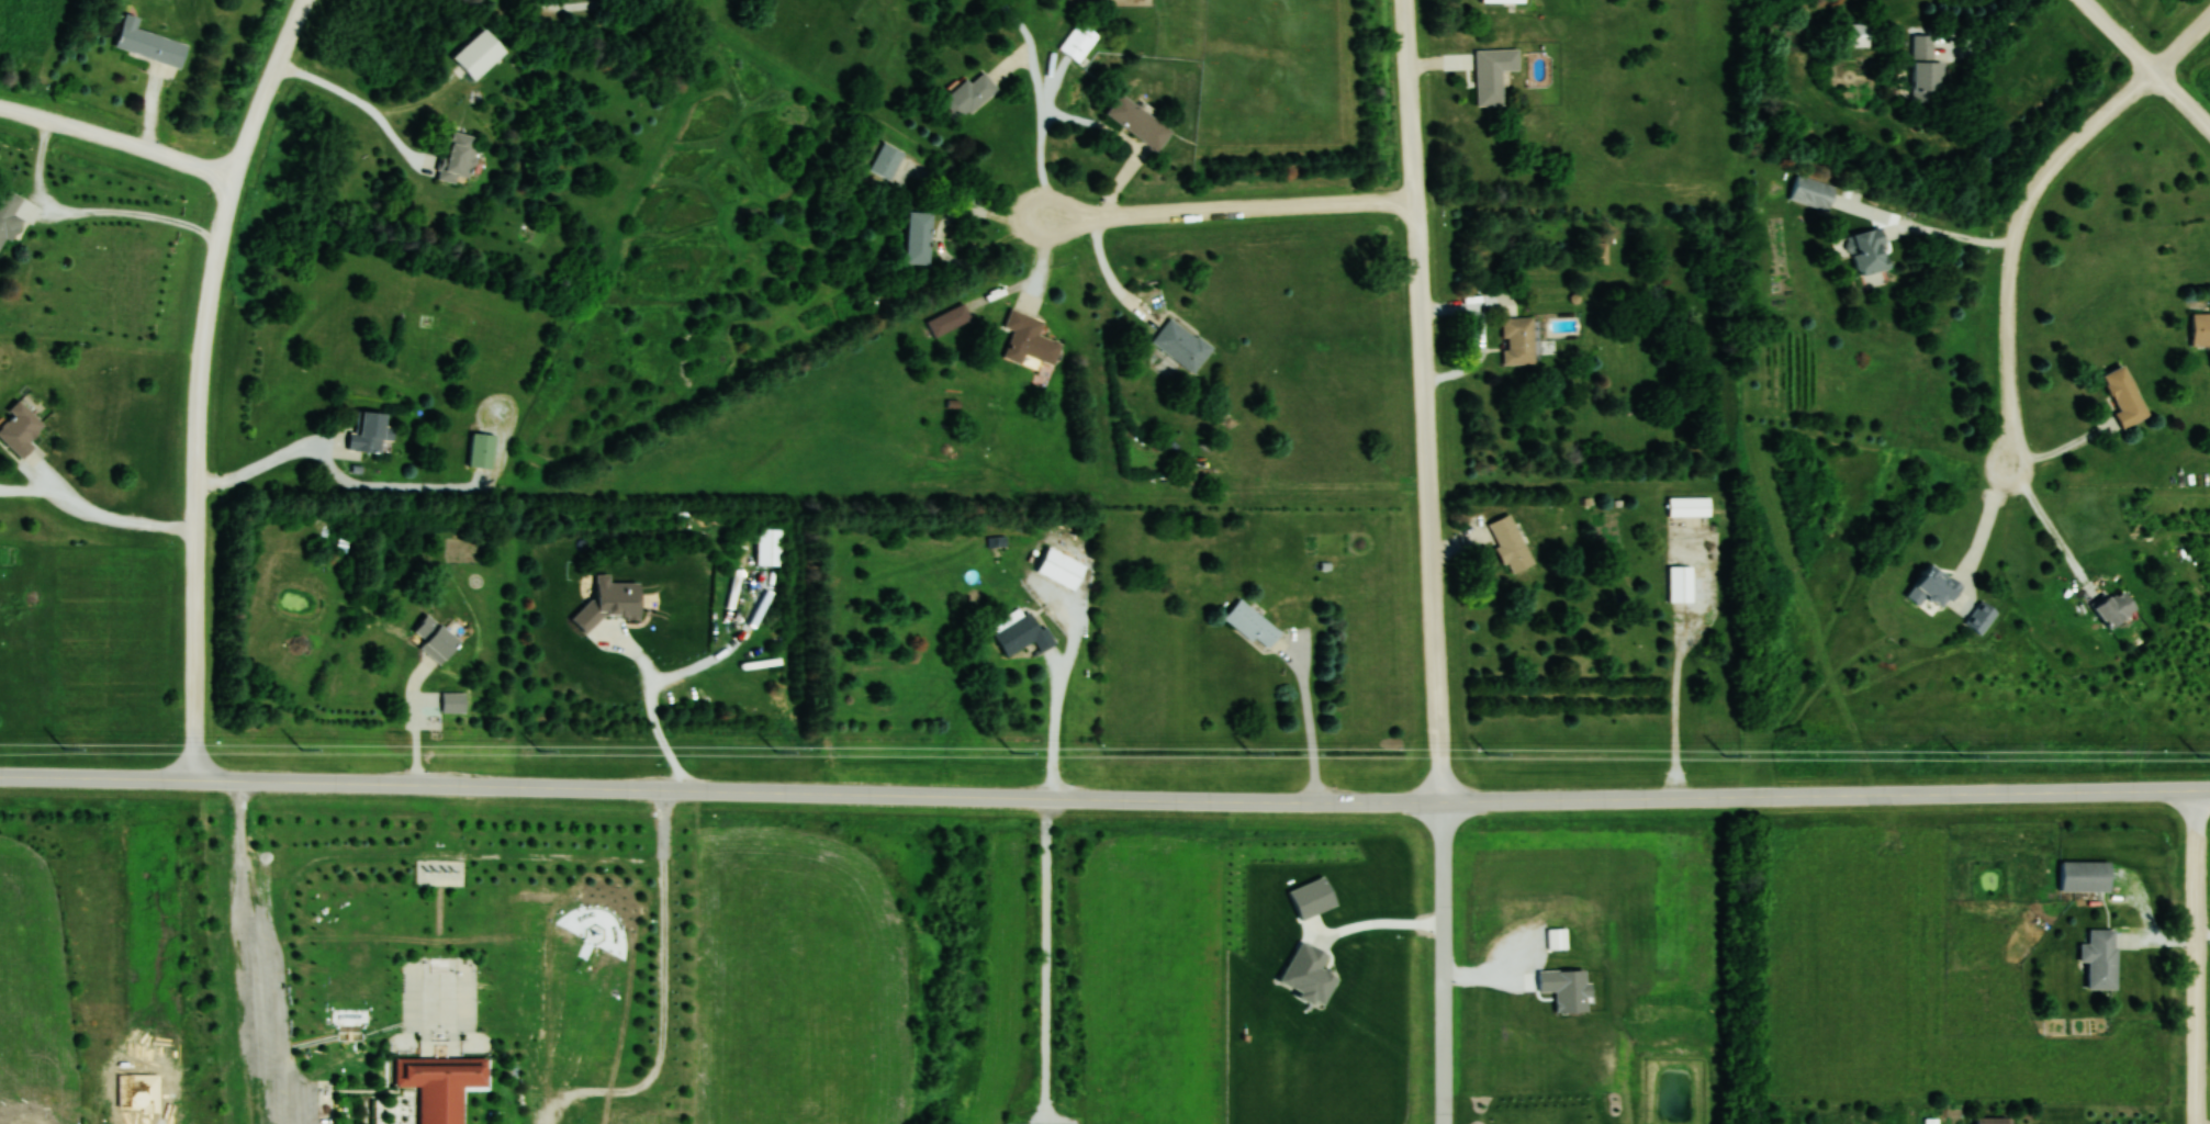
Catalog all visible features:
building: (1502, 1)
road: (571, 5)
building: (1856, 34)
road: (2122, 35)
road: (1990, 36)
building: (1078, 42)
building: (147, 43)
road: (2183, 44)
building: (479, 54)
building: (1926, 70)
building: (1492, 74)
building: (966, 95)
road: (2183, 99)
road: (359, 103)
building: (1137, 122)
road: (1043, 134)
road: (119, 140)
building: (458, 157)
building: (887, 160)
building: (1811, 192)
road: (1232, 209)
building: (8, 215)
road: (1956, 236)
building: (918, 237)
road: (2016, 243)
building: (1869, 251)
building: (1597, 252)
road: (1111, 276)
building: (947, 321)
building: (2200, 329)
building: (1028, 340)
building: (1516, 340)
building: (1181, 345)
road: (201, 380)
building: (2124, 396)
road: (1425, 401)
building: (19, 429)
building: (369, 432)
road: (2063, 449)
building: (481, 451)
road: (267, 464)
road: (412, 487)
building: (1690, 506)
road: (106, 516)
road: (1986, 521)
road: (2053, 529)
building: (1510, 542)
building: (767, 546)
building: (1061, 566)
building: (1681, 583)
building: (1933, 587)
building: (607, 603)
building: (2116, 608)
building: (1982, 617)
building: (1252, 625)
building: (1021, 630)
building: (435, 639)
road: (1058, 697)
building: (453, 701)
road: (652, 702)
road: (418, 720)
road: (1309, 723)
power tower: (63, 749)
power tower: (539, 750)
power tower: (301, 751)
power tower: (776, 751)
power tower: (1014, 752)
power tower: (1249, 753)
power tower: (1488, 753)
power tower: (1725, 755)
power tower: (1961, 755)
power tower: (2197, 756)
road: (1977, 793)
road: (872, 794)
road: (239, 841)
road: (437, 853)
building: (439, 872)
building: (2085, 875)
road: (248, 907)
road: (1377, 924)
building: (2102, 956)
road: (2196, 957)
road: (1046, 960)
road: (1444, 963)
road: (662, 993)
building: (439, 1083)
building: (1994, 1121)

